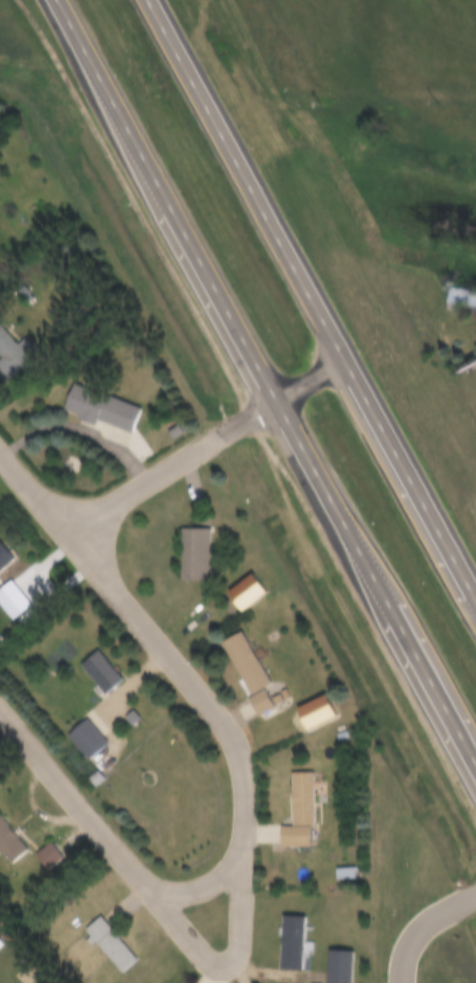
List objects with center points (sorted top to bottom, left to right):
road: (315, 294)
building: (462, 301)
building: (15, 352)
road: (274, 375)
building: (102, 409)
road: (239, 439)
road: (206, 441)
road: (32, 488)
building: (196, 555)
building: (5, 557)
building: (246, 662)
building: (103, 672)
building: (262, 702)
building: (89, 738)
building: (301, 810)
building: (10, 841)
building: (50, 855)
road: (202, 869)
building: (345, 874)
road: (241, 893)
road: (414, 921)
building: (294, 939)
building: (111, 945)
road: (238, 973)

